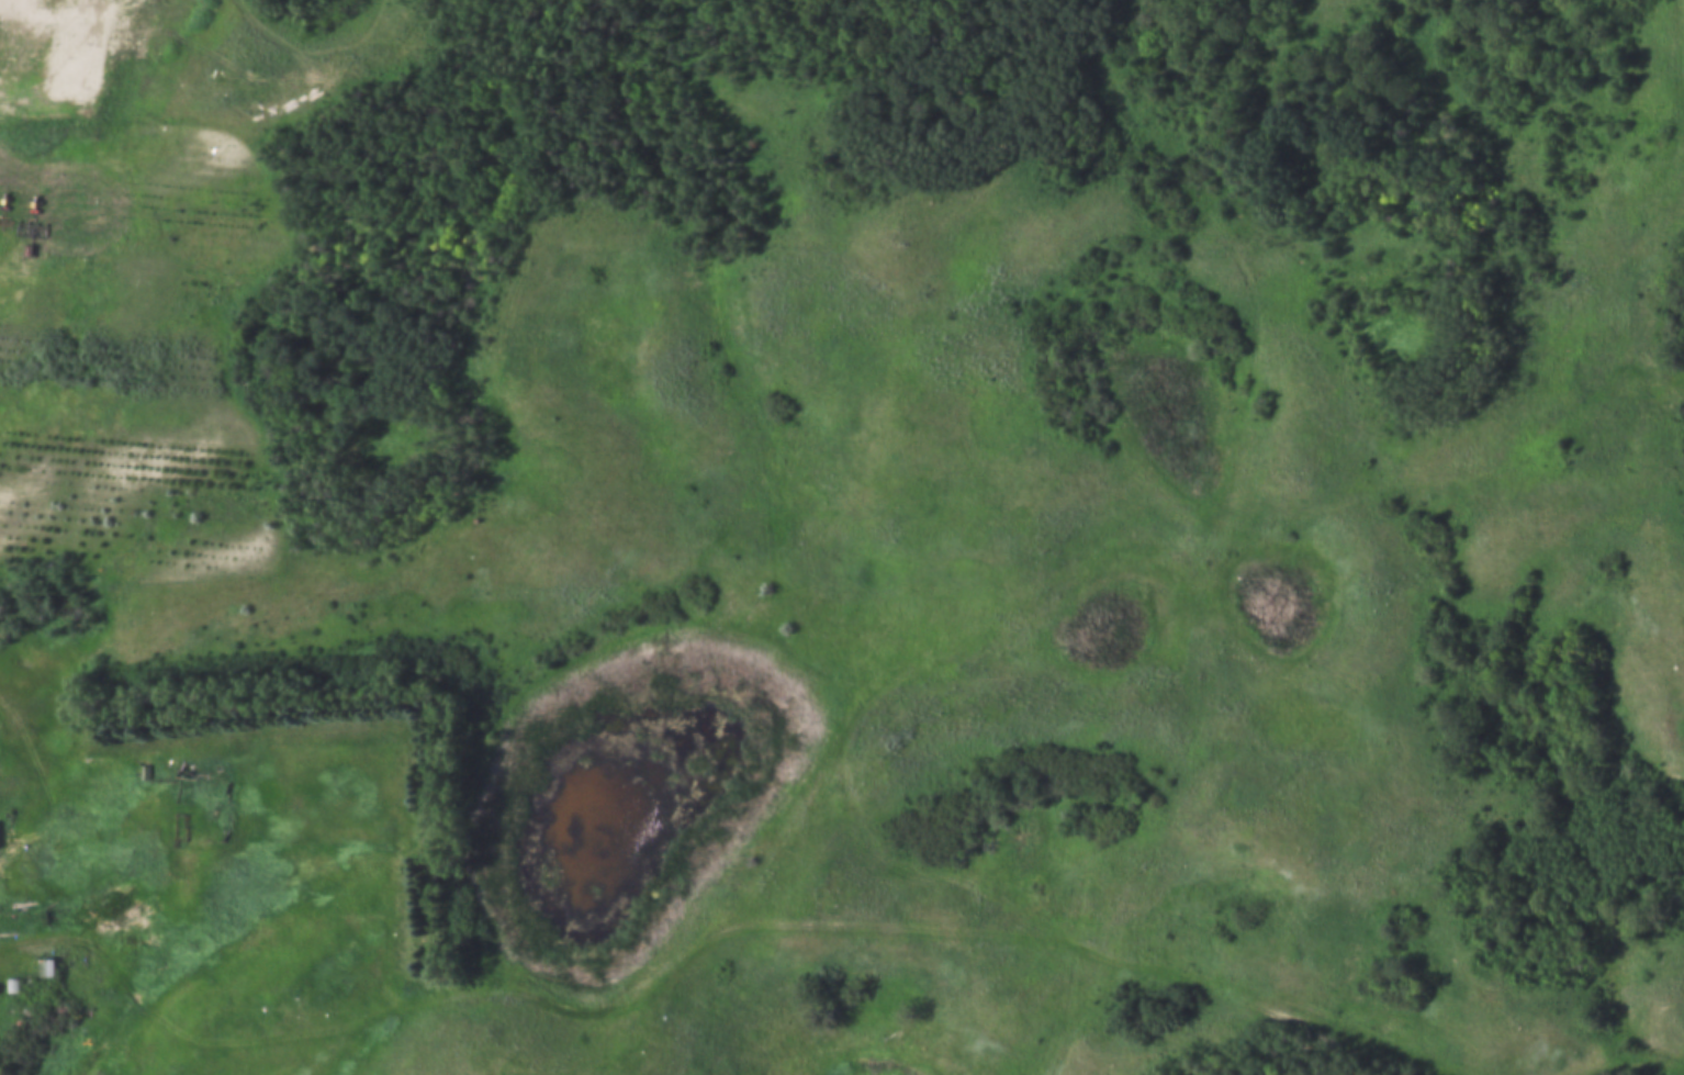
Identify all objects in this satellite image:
building: (47, 968)
building: (14, 986)

